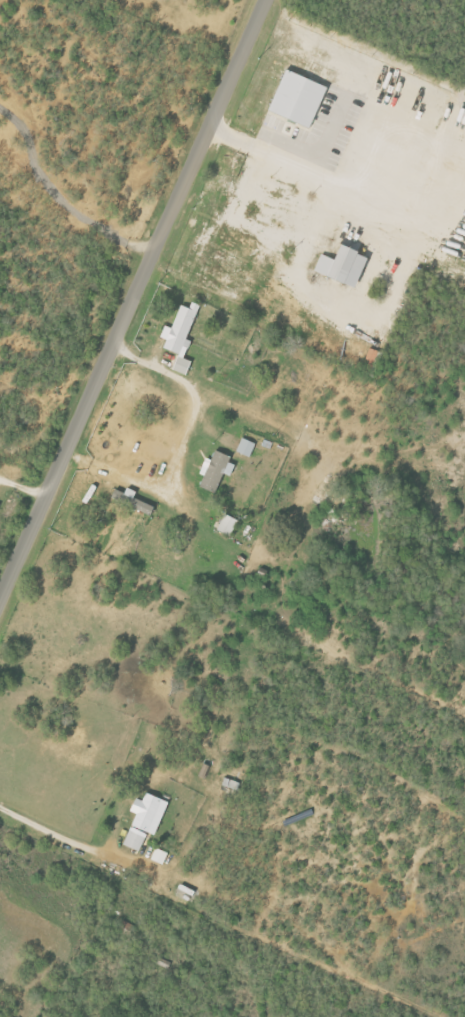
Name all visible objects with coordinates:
building: (300, 99)
road: (325, 193)
road: (72, 211)
building: (344, 267)
road: (132, 300)
building: (182, 336)
road: (188, 439)
building: (247, 447)
building: (217, 471)
road: (23, 487)
building: (133, 501)
building: (228, 525)
building: (146, 819)
road: (52, 833)
building: (160, 855)

